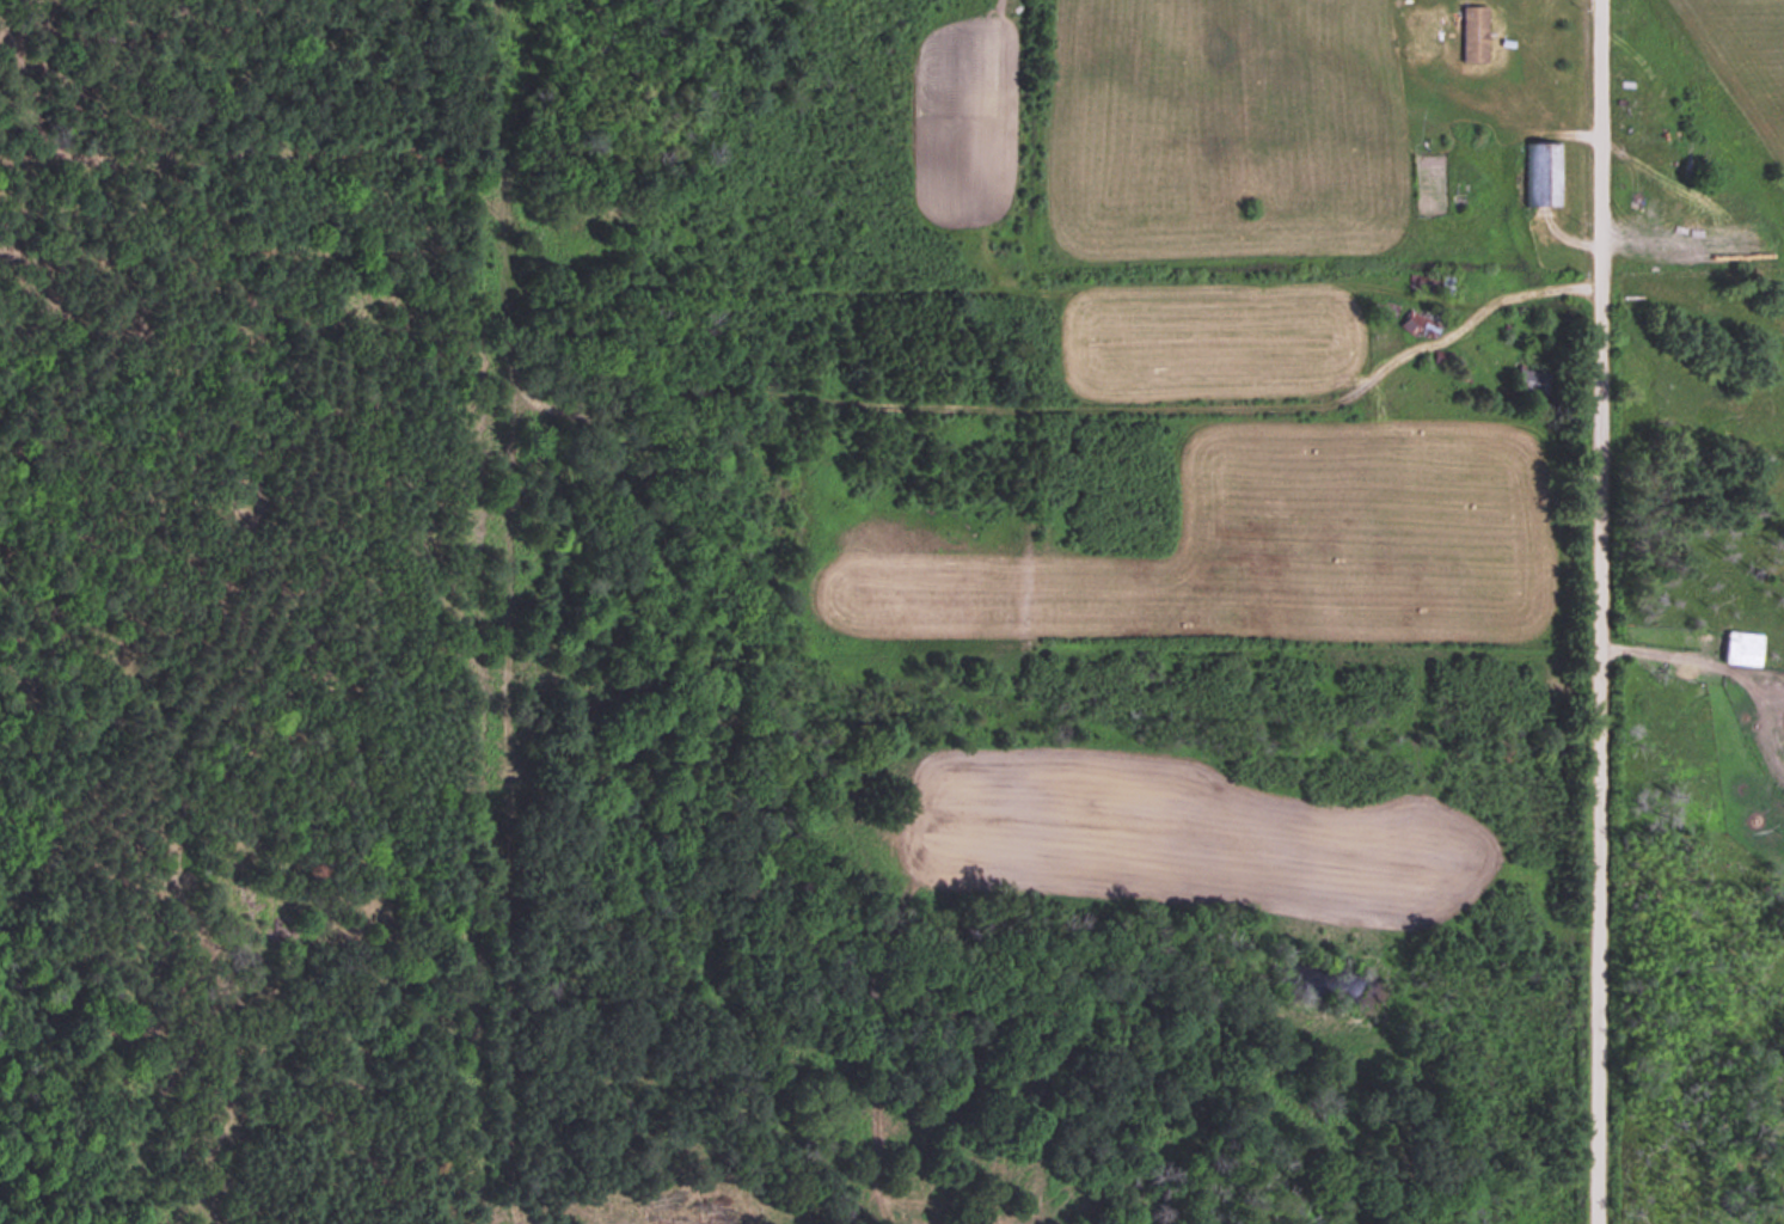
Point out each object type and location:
building: (1471, 31)
building: (1541, 172)
building: (1528, 379)
road: (1568, 612)
building: (1739, 647)

